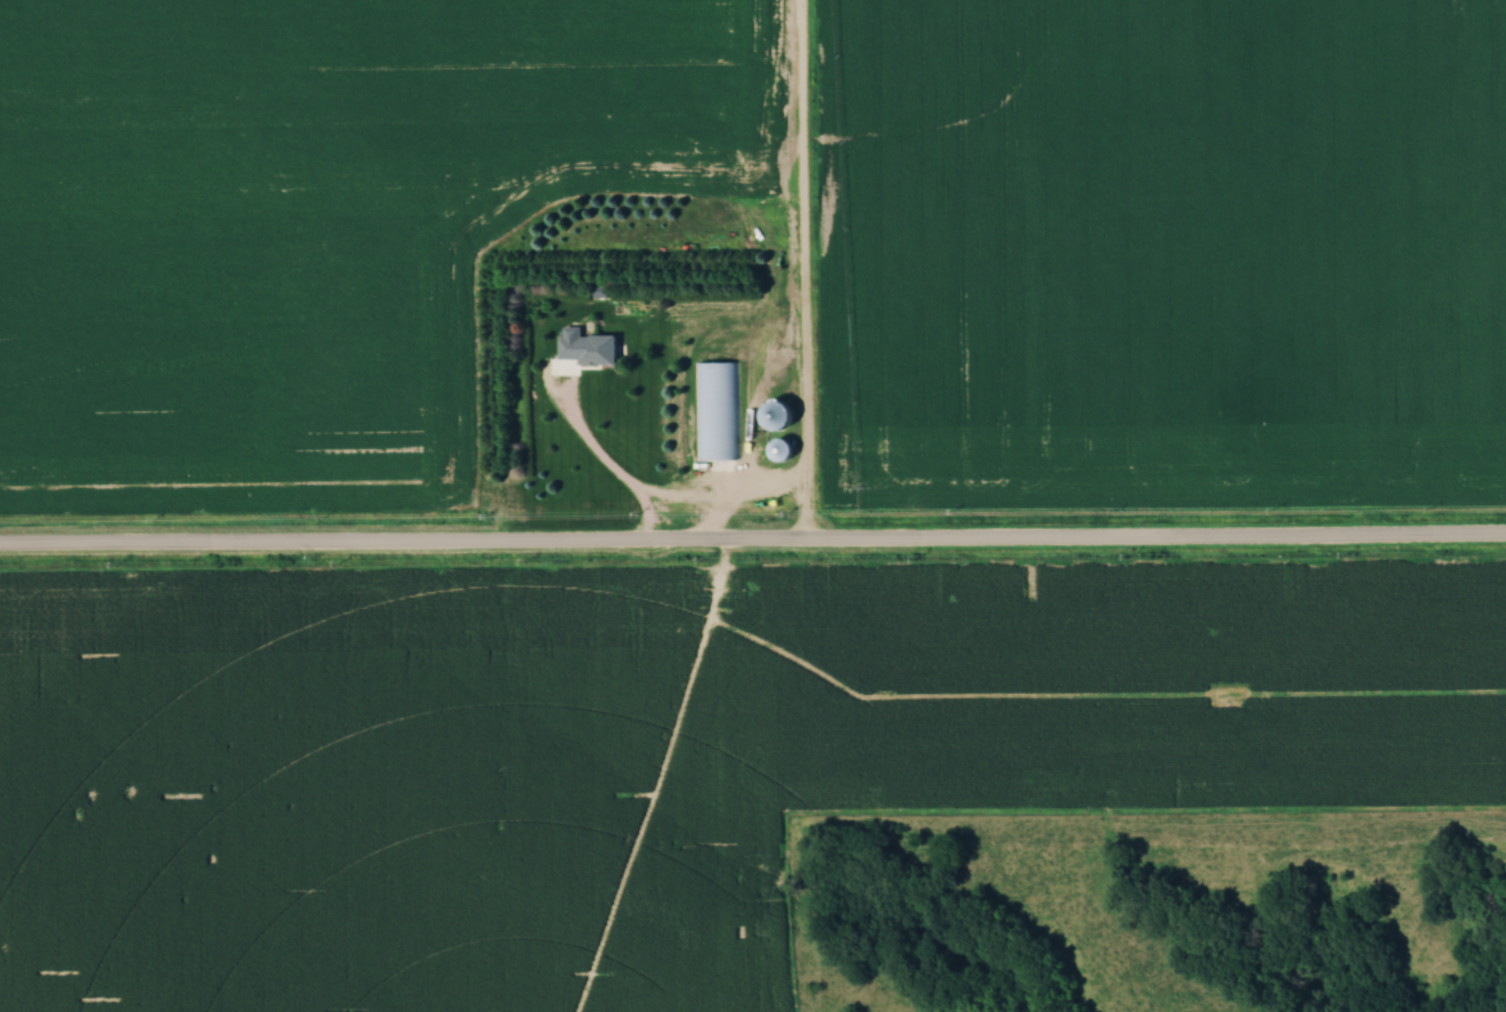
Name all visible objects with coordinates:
road: (805, 273)
building: (584, 346)
building: (718, 409)
building: (775, 415)
building: (778, 449)
road: (753, 546)

